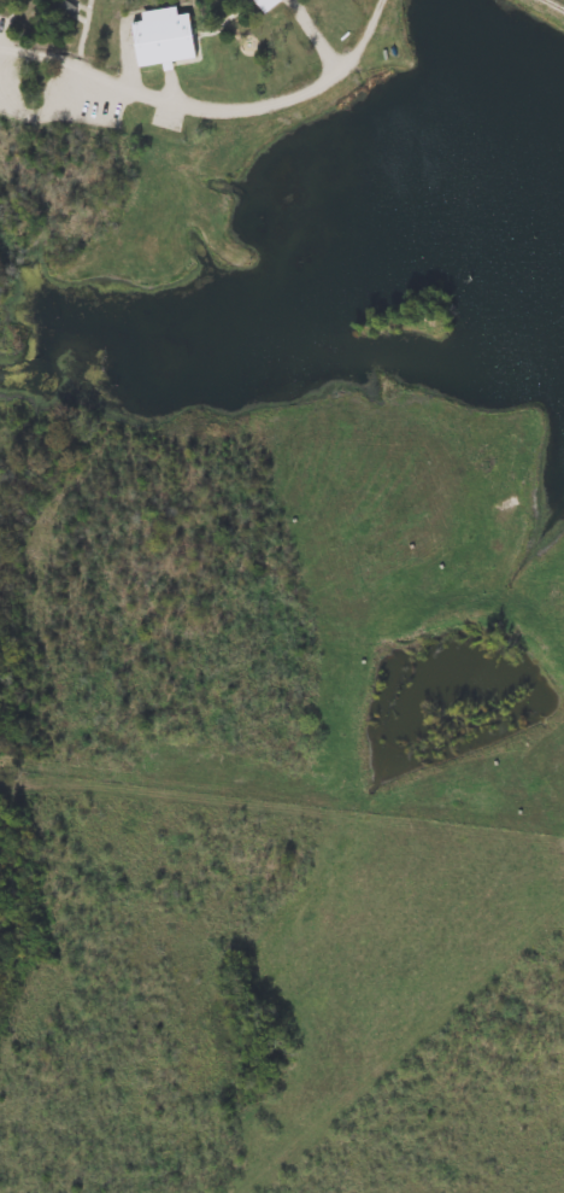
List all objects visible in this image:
road: (88, 35)
road: (182, 103)

